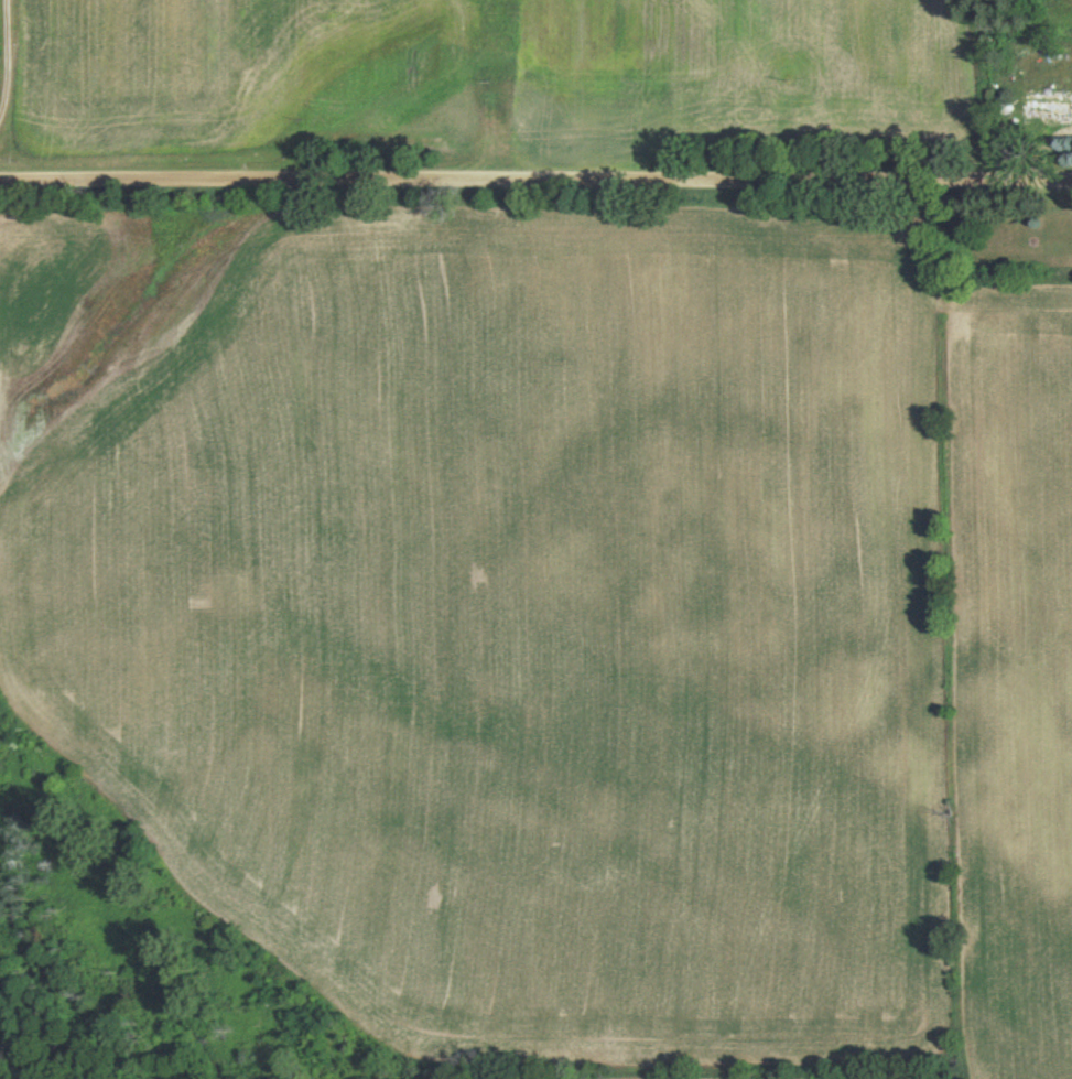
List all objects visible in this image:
road: (9, 57)
building: (1047, 104)
road: (535, 171)

